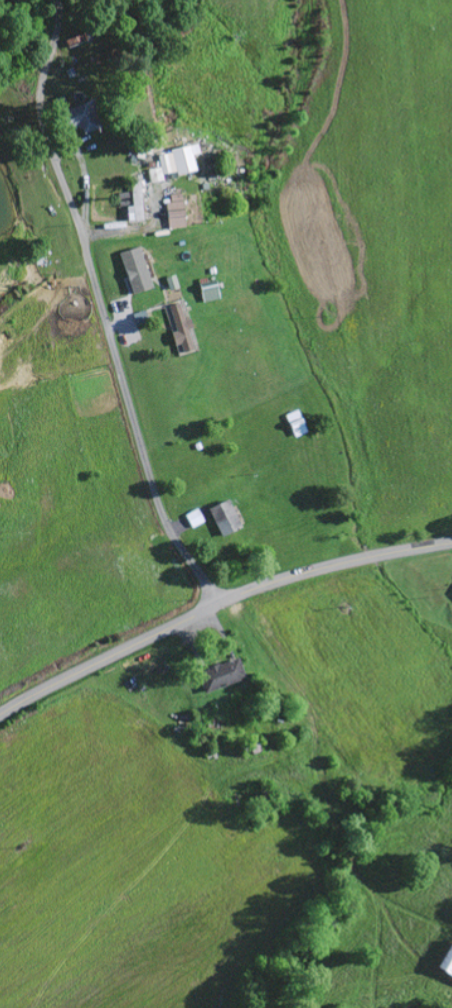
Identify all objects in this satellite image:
building: (74, 120)
building: (172, 162)
building: (131, 201)
building: (172, 211)
building: (132, 270)
building: (168, 282)
road: (100, 309)
building: (178, 327)
building: (219, 516)
building: (191, 518)
road: (217, 604)
building: (217, 674)
building: (444, 959)

